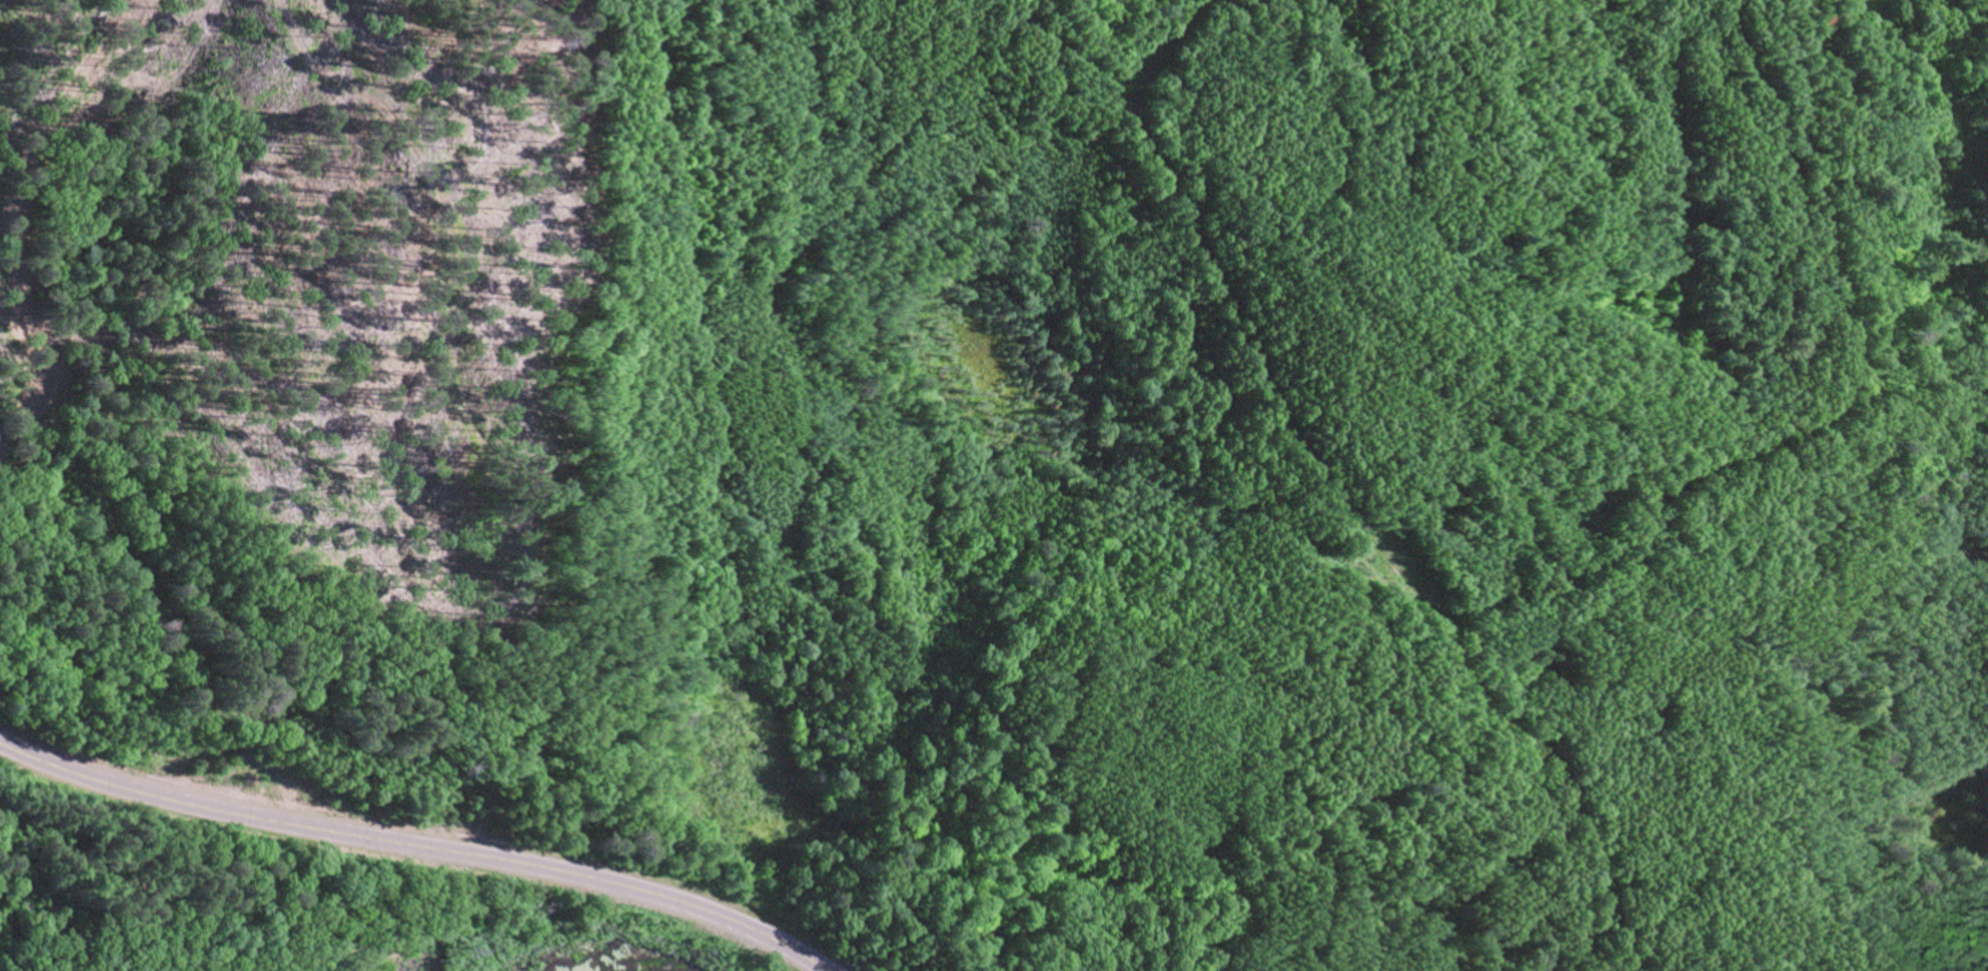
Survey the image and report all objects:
quarry: (1319, 481)
road: (1348, 492)
road: (79, 770)
road: (502, 860)

